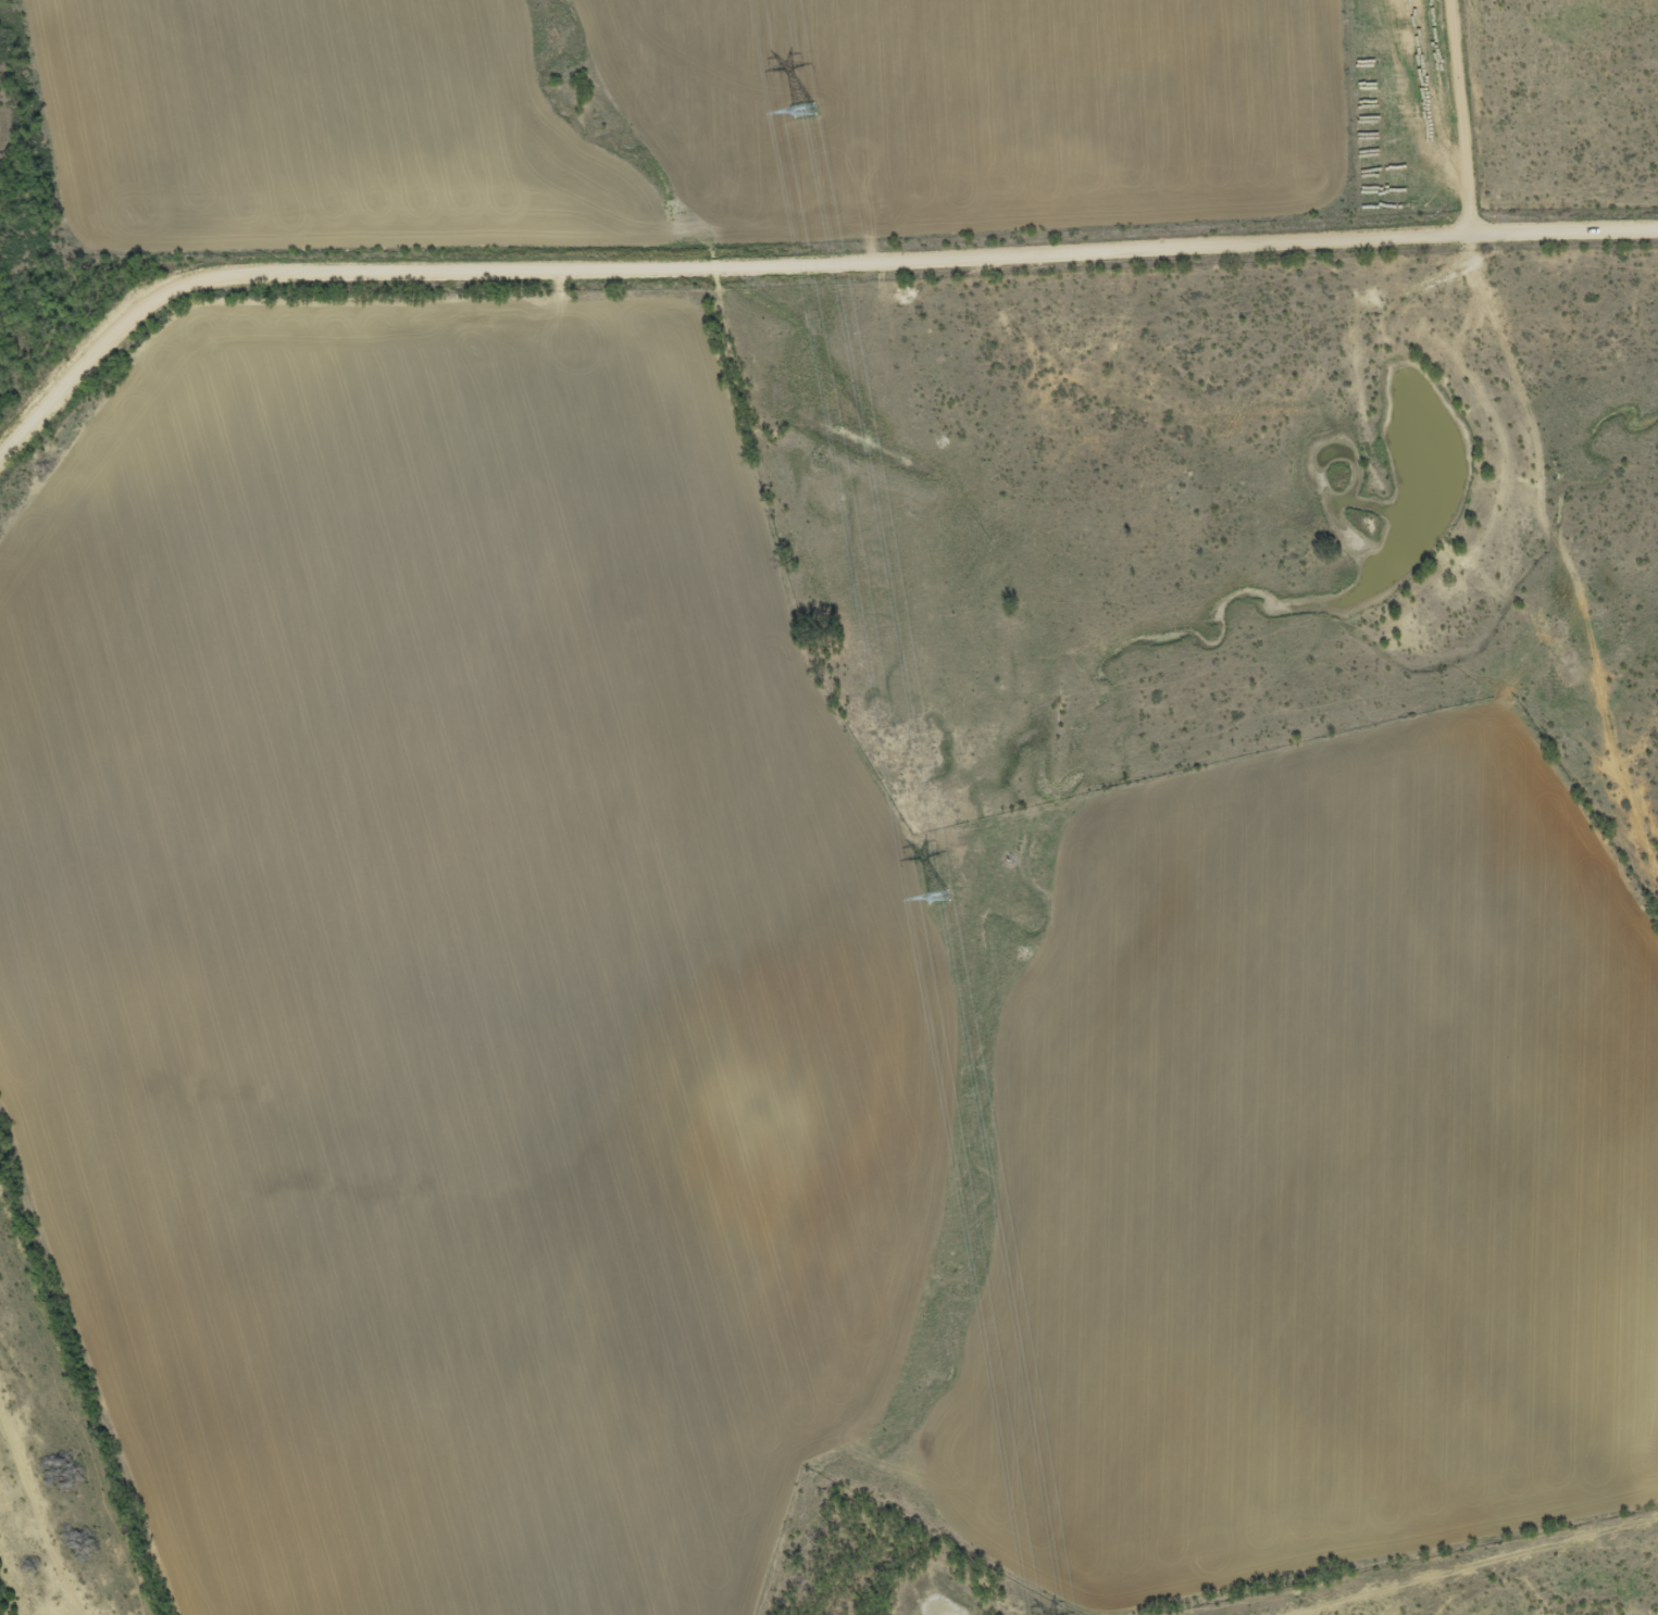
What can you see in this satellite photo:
power tower: (801, 109)
road: (794, 255)
road: (1531, 430)
road: (1476, 641)
power tower: (936, 896)

